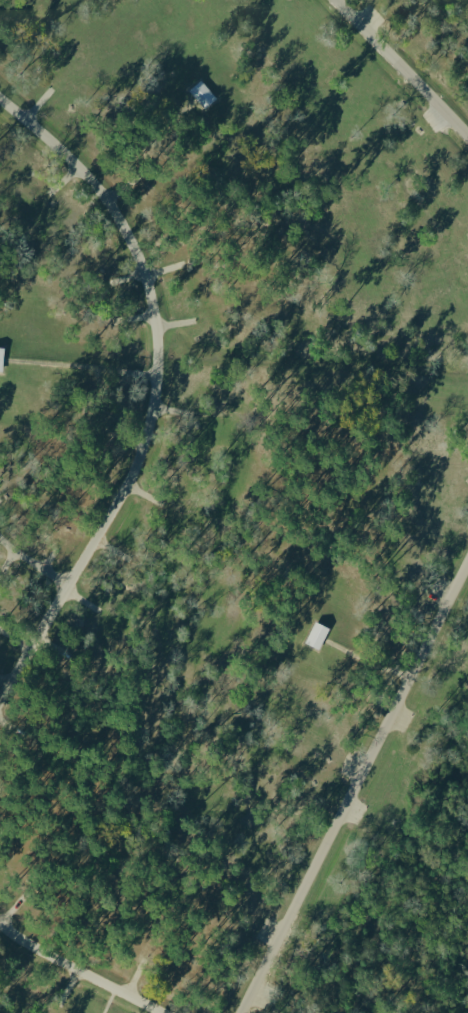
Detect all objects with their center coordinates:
parking lot: (372, 15)
road: (403, 65)
building: (200, 93)
road: (38, 101)
parking lot: (434, 119)
road: (164, 133)
road: (62, 177)
road: (122, 184)
road: (164, 268)
road: (125, 276)
road: (135, 316)
road: (176, 321)
building: (0, 349)
road: (59, 364)
road: (140, 373)
road: (159, 392)
road: (172, 409)
road: (126, 436)
road: (2, 494)
road: (144, 494)
park: (234, 506)
road: (113, 550)
road: (48, 557)
road: (6, 558)
road: (33, 565)
parking lot: (439, 589)
road: (82, 601)
building: (313, 634)
road: (17, 640)
road: (57, 649)
road: (366, 660)
parking lot: (402, 663)
road: (6, 683)
parking lot: (404, 718)
road: (6, 725)
parking lot: (350, 764)
road: (356, 791)
parking lot: (356, 811)
road: (11, 905)
parking lot: (267, 930)
road: (79, 970)
road: (132, 976)
road: (66, 985)
parking lot: (261, 995)
road: (104, 1000)

